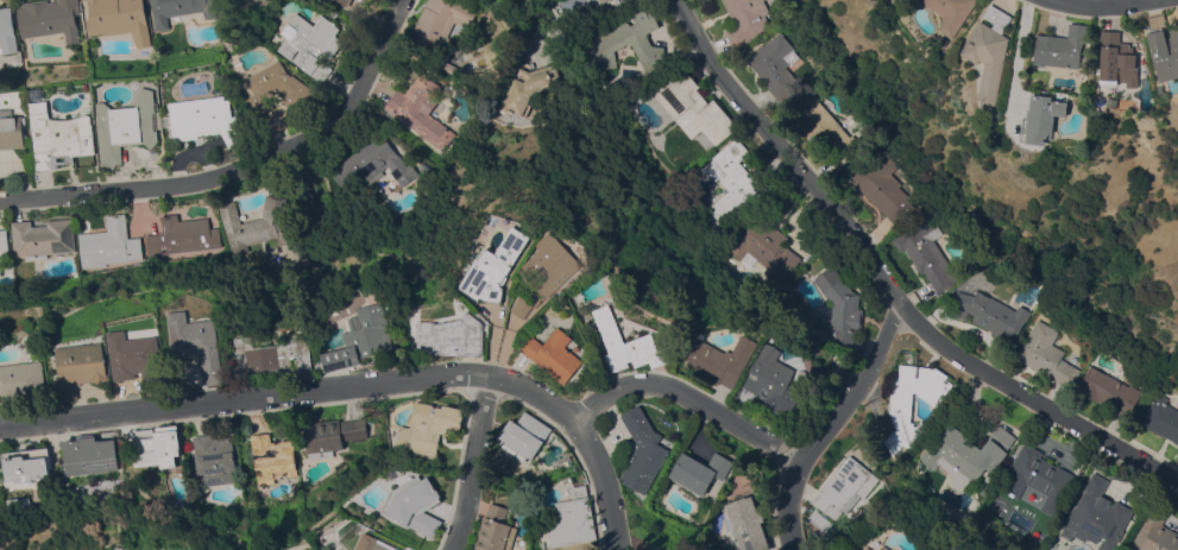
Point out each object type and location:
building: (83, 0)
building: (604, 1)
building: (344, 2)
building: (265, 4)
road: (1109, 7)
building: (178, 10)
building: (952, 13)
building: (49, 18)
building: (119, 19)
building: (745, 20)
building: (436, 23)
building: (7, 31)
building: (629, 40)
building: (309, 44)
building: (1063, 46)
building: (1165, 46)
building: (990, 52)
road: (1018, 57)
building: (1120, 61)
building: (774, 65)
building: (451, 68)
building: (529, 88)
building: (1163, 88)
building: (276, 89)
building: (693, 108)
building: (421, 109)
building: (204, 119)
building: (1044, 119)
building: (126, 126)
building: (12, 129)
building: (825, 132)
building: (58, 137)
building: (373, 164)
building: (422, 166)
road: (240, 167)
road: (304, 178)
building: (731, 182)
building: (882, 187)
building: (257, 225)
building: (181, 235)
building: (42, 238)
building: (108, 244)
building: (764, 247)
building: (4, 248)
building: (926, 252)
building: (555, 263)
building: (497, 267)
road: (887, 283)
building: (522, 306)
building: (838, 308)
building: (990, 314)
building: (453, 336)
building: (360, 337)
building: (197, 343)
building: (626, 343)
building: (553, 354)
building: (1046, 354)
building: (272, 355)
building: (137, 359)
building: (719, 360)
building: (80, 368)
building: (23, 381)
building: (769, 381)
road: (643, 385)
building: (1108, 391)
road: (246, 400)
building: (900, 400)
building: (1161, 419)
road: (832, 424)
building: (355, 428)
building: (428, 428)
building: (523, 436)
building: (322, 437)
building: (157, 445)
building: (642, 449)
building: (968, 454)
building: (88, 455)
building: (271, 457)
building: (213, 459)
road: (480, 463)
building: (25, 464)
building: (699, 472)
building: (1037, 478)
road: (610, 485)
building: (844, 487)
building: (415, 505)
building: (1097, 514)
building: (572, 521)
building: (745, 524)
building: (494, 530)
building: (1155, 533)
building: (373, 543)
building: (857, 549)
building: (868, 549)
building: (881, 549)

